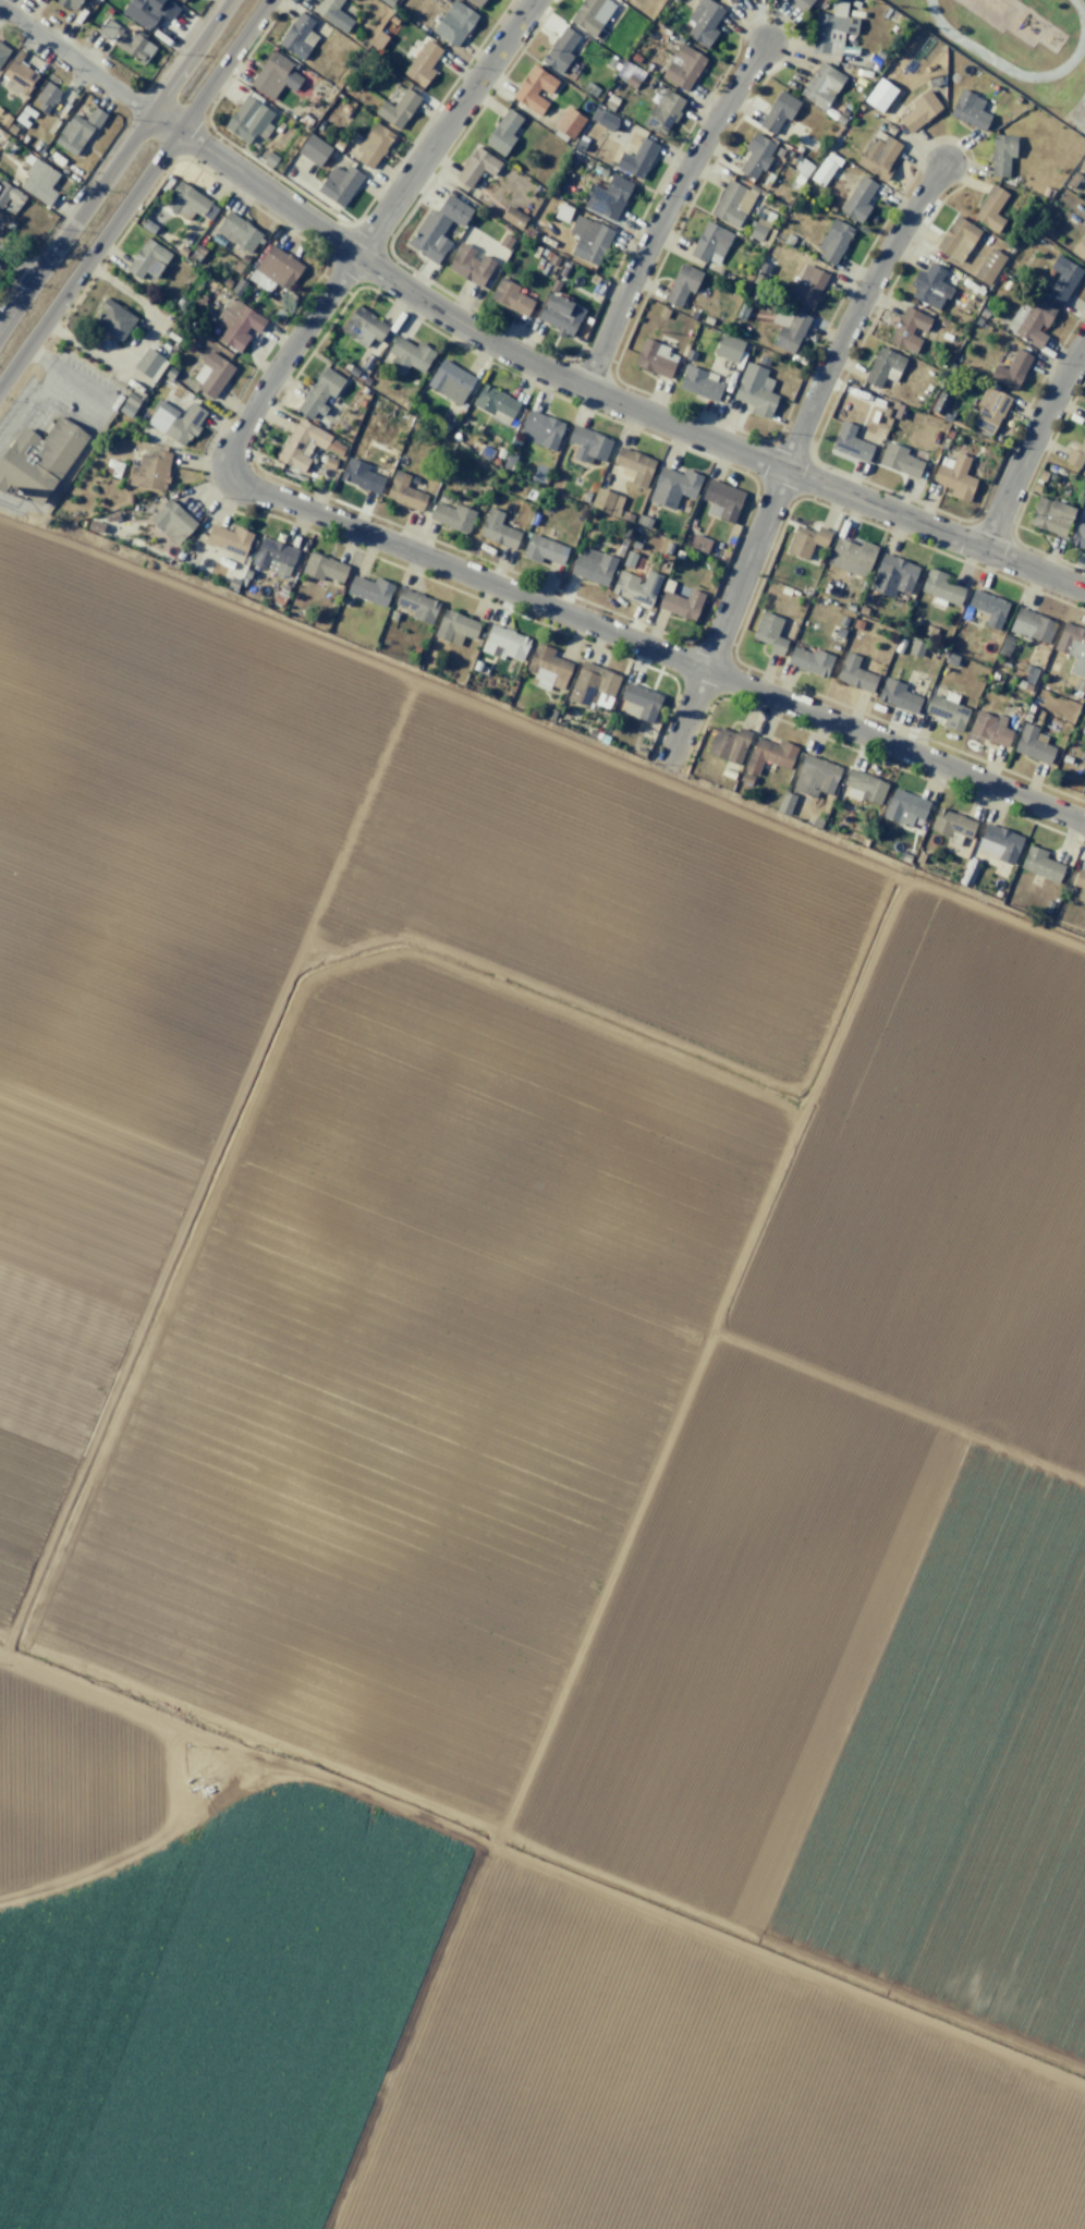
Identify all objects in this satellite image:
building: (180, 0)
building: (674, 0)
building: (731, 1)
building: (387, 2)
building: (476, 2)
building: (66, 3)
building: (800, 4)
building: (147, 12)
building: (332, 14)
building: (590, 14)
building: (393, 19)
building: (703, 21)
building: (454, 23)
building: (831, 28)
building: (298, 36)
building: (378, 40)
building: (126, 41)
building: (560, 50)
building: (2, 52)
building: (422, 63)
building: (683, 66)
building: (629, 73)
building: (17, 74)
building: (276, 75)
building: (821, 84)
building: (534, 89)
building: (878, 95)
building: (46, 96)
building: (398, 108)
building: (919, 110)
building: (970, 110)
building: (778, 111)
building: (662, 112)
building: (23, 115)
building: (249, 119)
building: (602, 119)
building: (568, 122)
building: (77, 130)
building: (503, 131)
building: (374, 145)
building: (313, 149)
building: (779, 151)
building: (1001, 154)
building: (755, 155)
building: (878, 155)
building: (268, 158)
building: (636, 158)
building: (1083, 165)
road: (114, 166)
building: (476, 167)
building: (825, 168)
building: (798, 171)
building: (1072, 180)
building: (39, 181)
building: (339, 184)
road: (132, 190)
building: (613, 196)
building: (10, 197)
building: (858, 199)
building: (185, 200)
building: (733, 204)
building: (988, 207)
road: (663, 210)
building: (562, 212)
building: (513, 217)
building: (147, 227)
building: (438, 229)
building: (757, 229)
building: (237, 231)
building: (588, 239)
building: (956, 239)
building: (832, 240)
building: (505, 242)
building: (710, 243)
building: (1080, 246)
road: (359, 249)
building: (147, 259)
road: (19, 264)
building: (471, 266)
building: (988, 266)
building: (763, 268)
building: (275, 270)
building: (1063, 278)
building: (682, 283)
building: (806, 285)
building: (929, 285)
building: (237, 287)
building: (510, 296)
building: (662, 312)
building: (742, 312)
building: (560, 315)
building: (113, 319)
building: (236, 321)
building: (1029, 321)
building: (363, 326)
building: (909, 329)
building: (790, 332)
building: (728, 348)
road: (512, 353)
building: (690, 355)
building: (409, 356)
building: (655, 357)
building: (764, 360)
building: (147, 363)
building: (883, 366)
building: (1011, 369)
building: (169, 373)
building: (211, 373)
building: (450, 381)
building: (698, 383)
building: (755, 389)
building: (318, 391)
building: (131, 400)
building: (493, 401)
building: (939, 403)
building: (124, 409)
building: (989, 409)
building: (900, 412)
building: (1084, 418)
building: (175, 421)
building: (1084, 422)
building: (540, 430)
road: (1027, 441)
building: (850, 442)
building: (301, 444)
building: (589, 444)
building: (1075, 453)
road: (789, 456)
building: (39, 460)
building: (899, 460)
building: (509, 461)
building: (329, 463)
building: (634, 465)
building: (112, 468)
building: (149, 471)
building: (361, 476)
building: (953, 477)
building: (673, 487)
building: (404, 492)
building: (601, 499)
building: (721, 500)
building: (626, 515)
building: (451, 516)
building: (1050, 516)
building: (643, 521)
building: (170, 522)
building: (498, 529)
building: (1078, 536)
building: (229, 538)
building: (806, 539)
building: (698, 543)
building: (542, 548)
building: (851, 556)
building: (273, 557)
building: (629, 558)
building: (592, 565)
building: (321, 569)
building: (891, 575)
building: (636, 587)
building: (940, 588)
building: (368, 589)
building: (681, 604)
building: (416, 605)
building: (986, 608)
building: (862, 610)
building: (842, 620)
building: (914, 622)
building: (856, 623)
building: (1031, 624)
building: (455, 628)
building: (930, 629)
building: (769, 632)
building: (840, 632)
building: (503, 643)
building: (1004, 645)
building: (1072, 646)
building: (916, 647)
road: (676, 658)
building: (951, 659)
building: (809, 660)
building: (546, 668)
building: (854, 673)
building: (1031, 674)
building: (590, 684)
building: (1024, 686)
building: (898, 695)
building: (642, 701)
building: (948, 711)
building: (989, 727)
building: (728, 744)
building: (1032, 744)
building: (769, 754)
building: (815, 776)
building: (745, 778)
building: (1083, 782)
building: (864, 785)
building: (784, 803)
building: (904, 807)
building: (951, 826)
building: (999, 843)
building: (1040, 864)
building: (1080, 885)
building: (1047, 908)
crop: (516, 1469)

